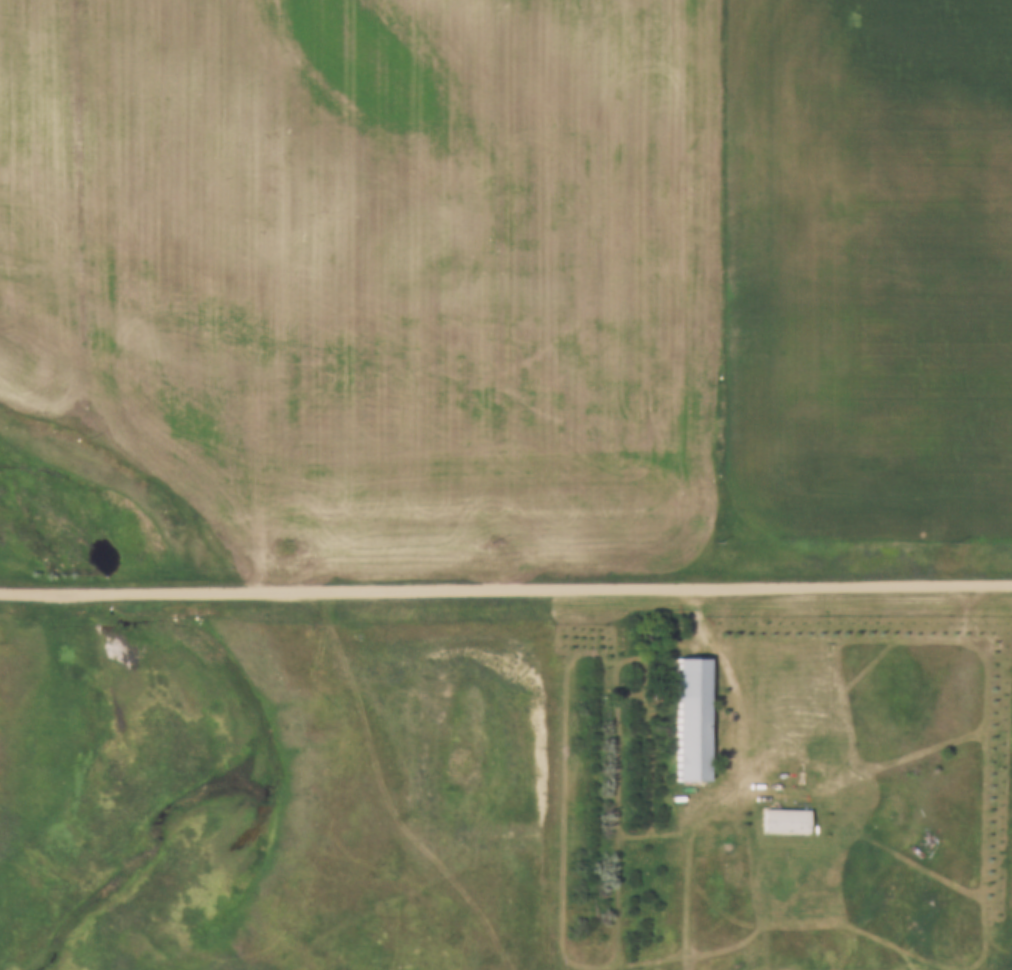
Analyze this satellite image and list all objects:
road: (505, 590)
road: (986, 636)
building: (687, 712)
building: (1011, 713)
silo: (1011, 713)
road: (757, 737)
building: (780, 815)

